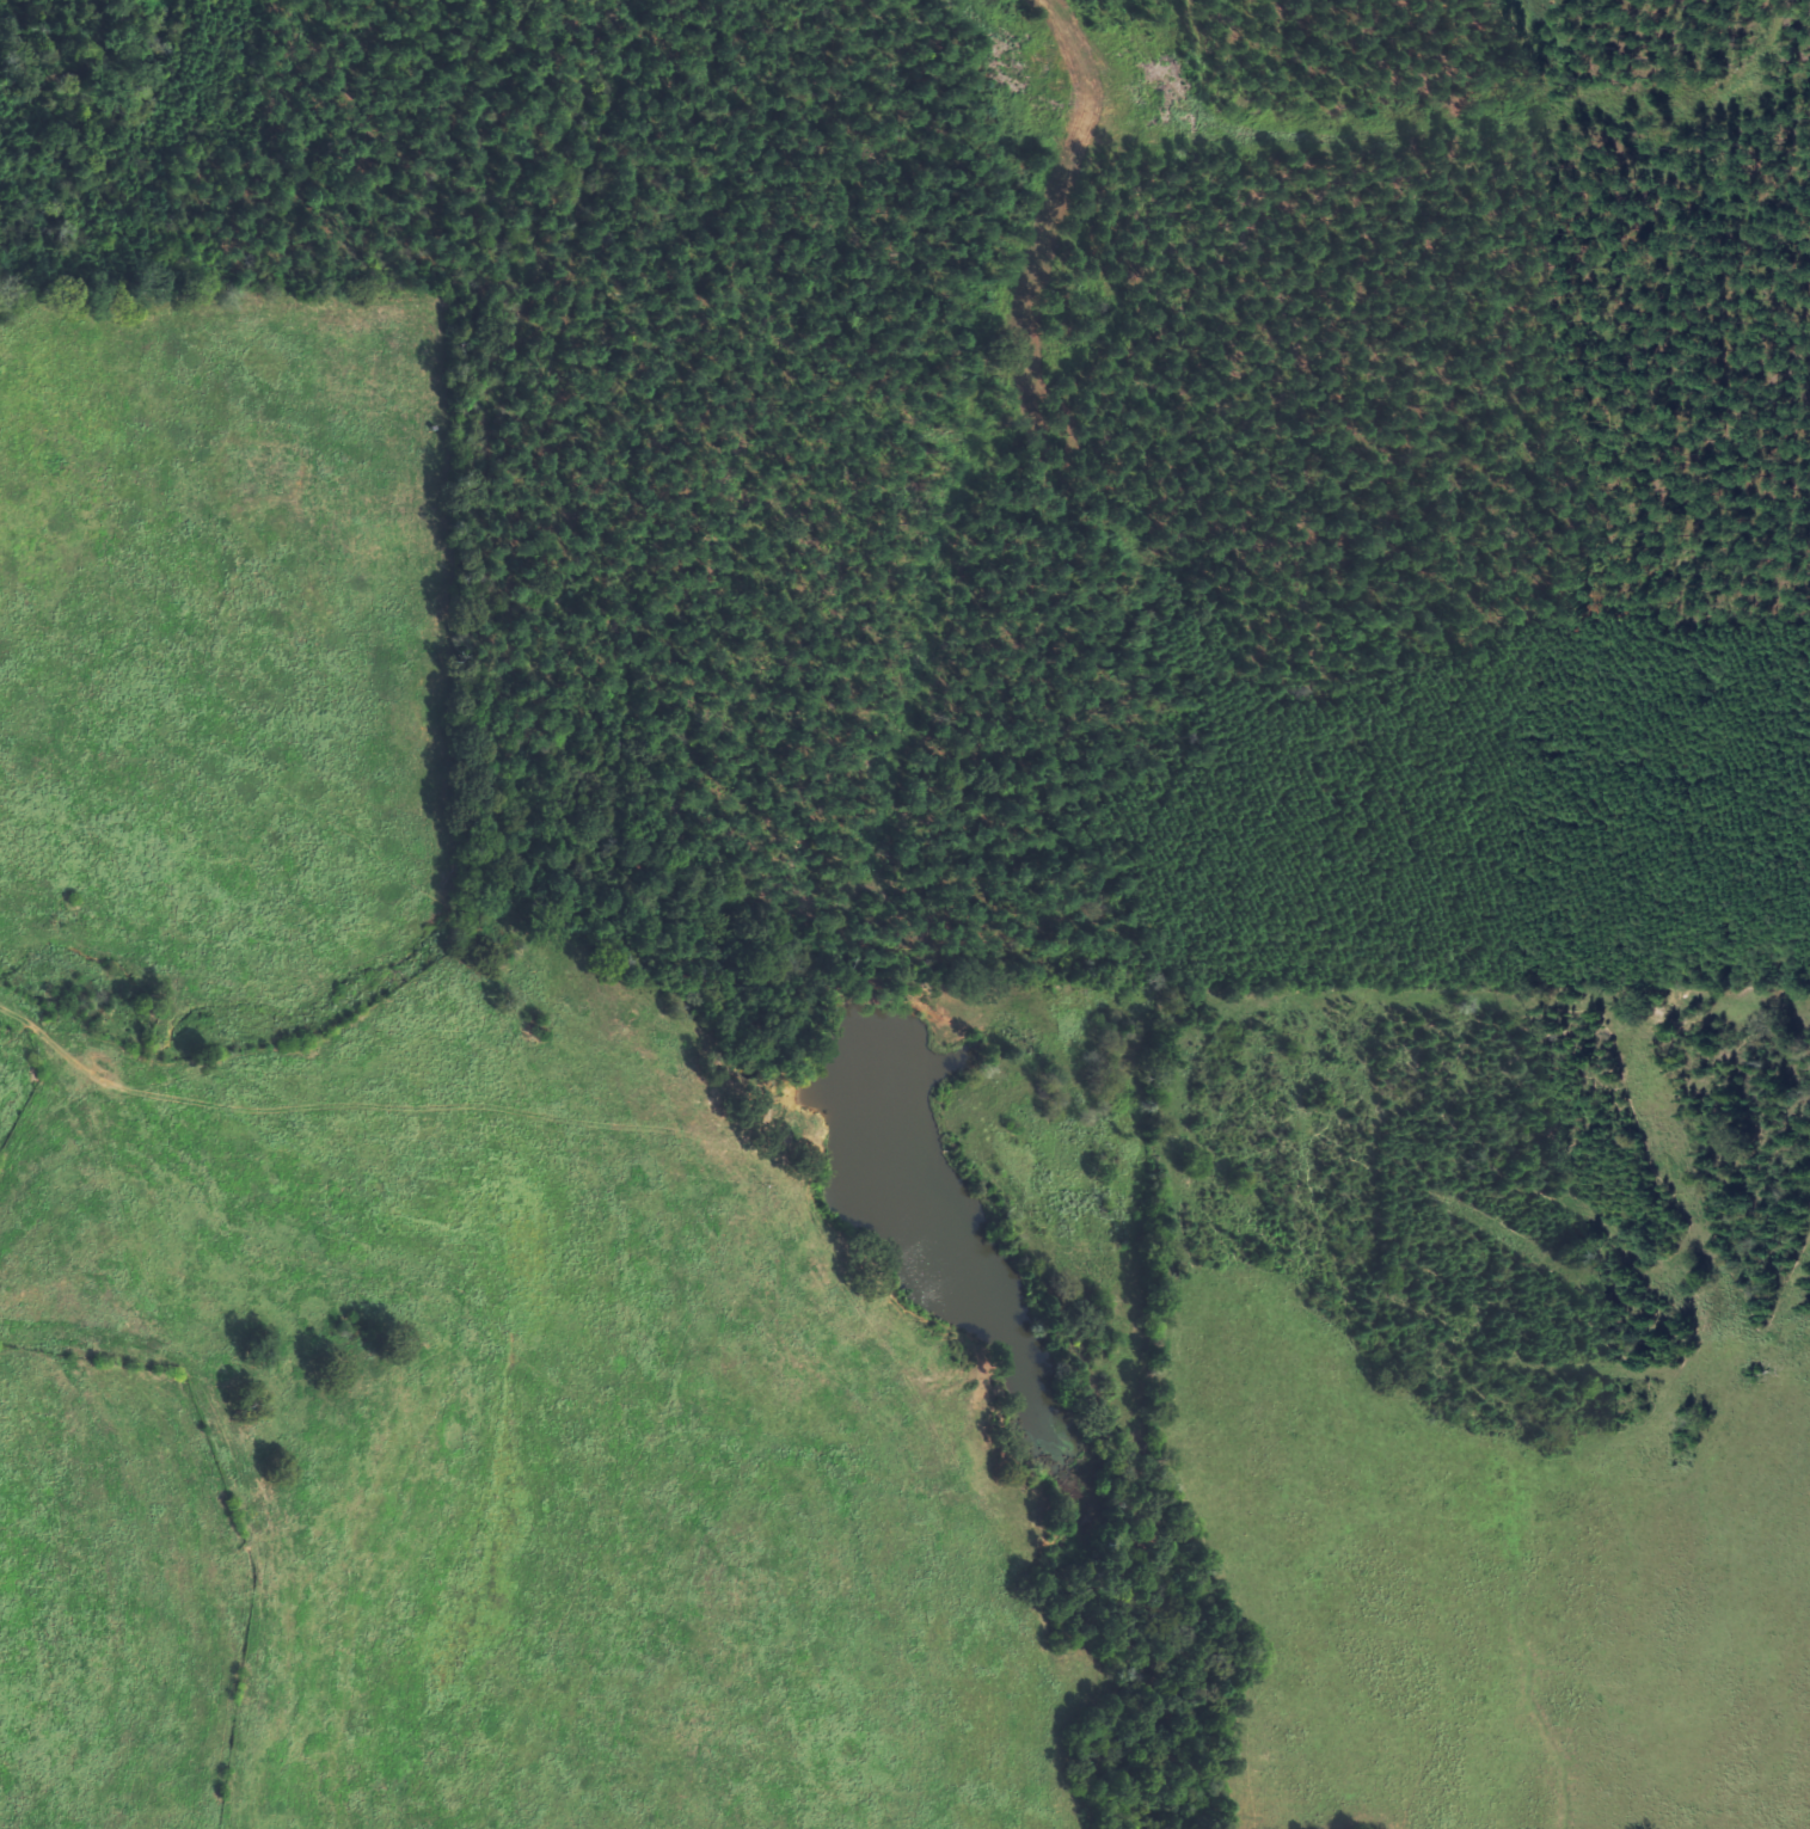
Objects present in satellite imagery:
road: (51, 1127)
road: (252, 1499)

